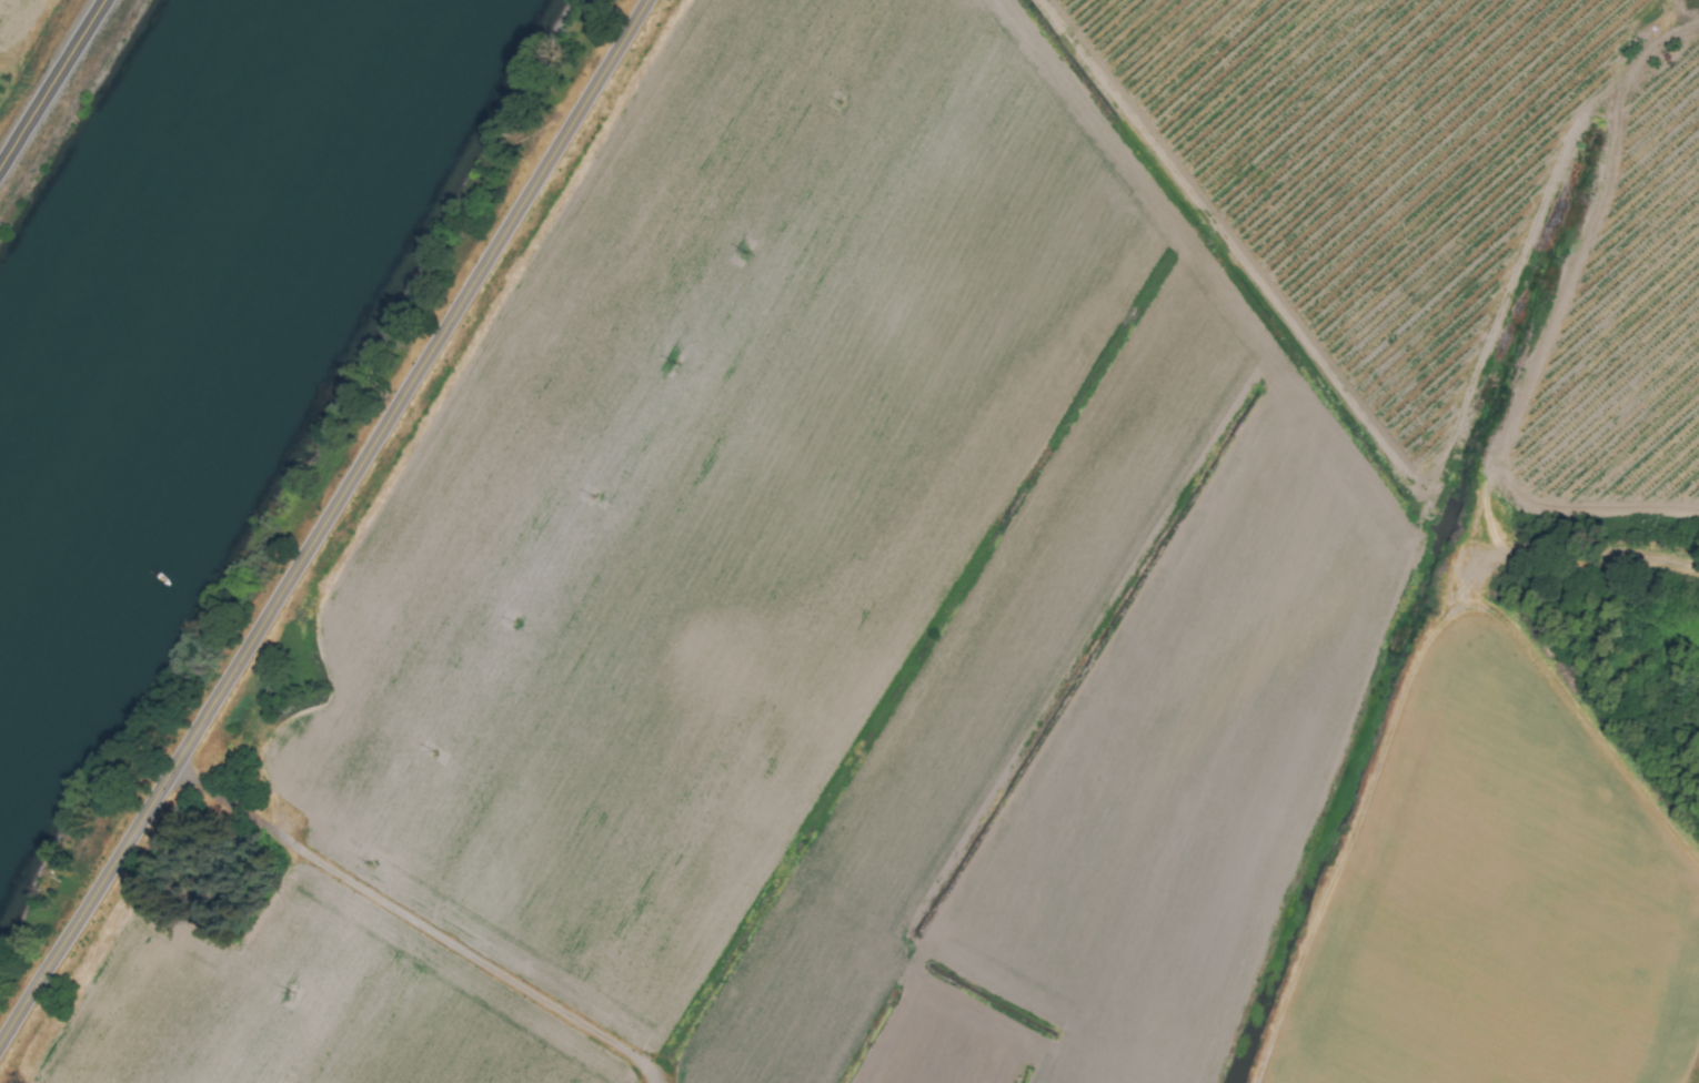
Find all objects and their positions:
crop: (36, 59)
road: (49, 82)
river: (174, 295)
road: (322, 523)
crop: (993, 585)
road: (411, 927)

